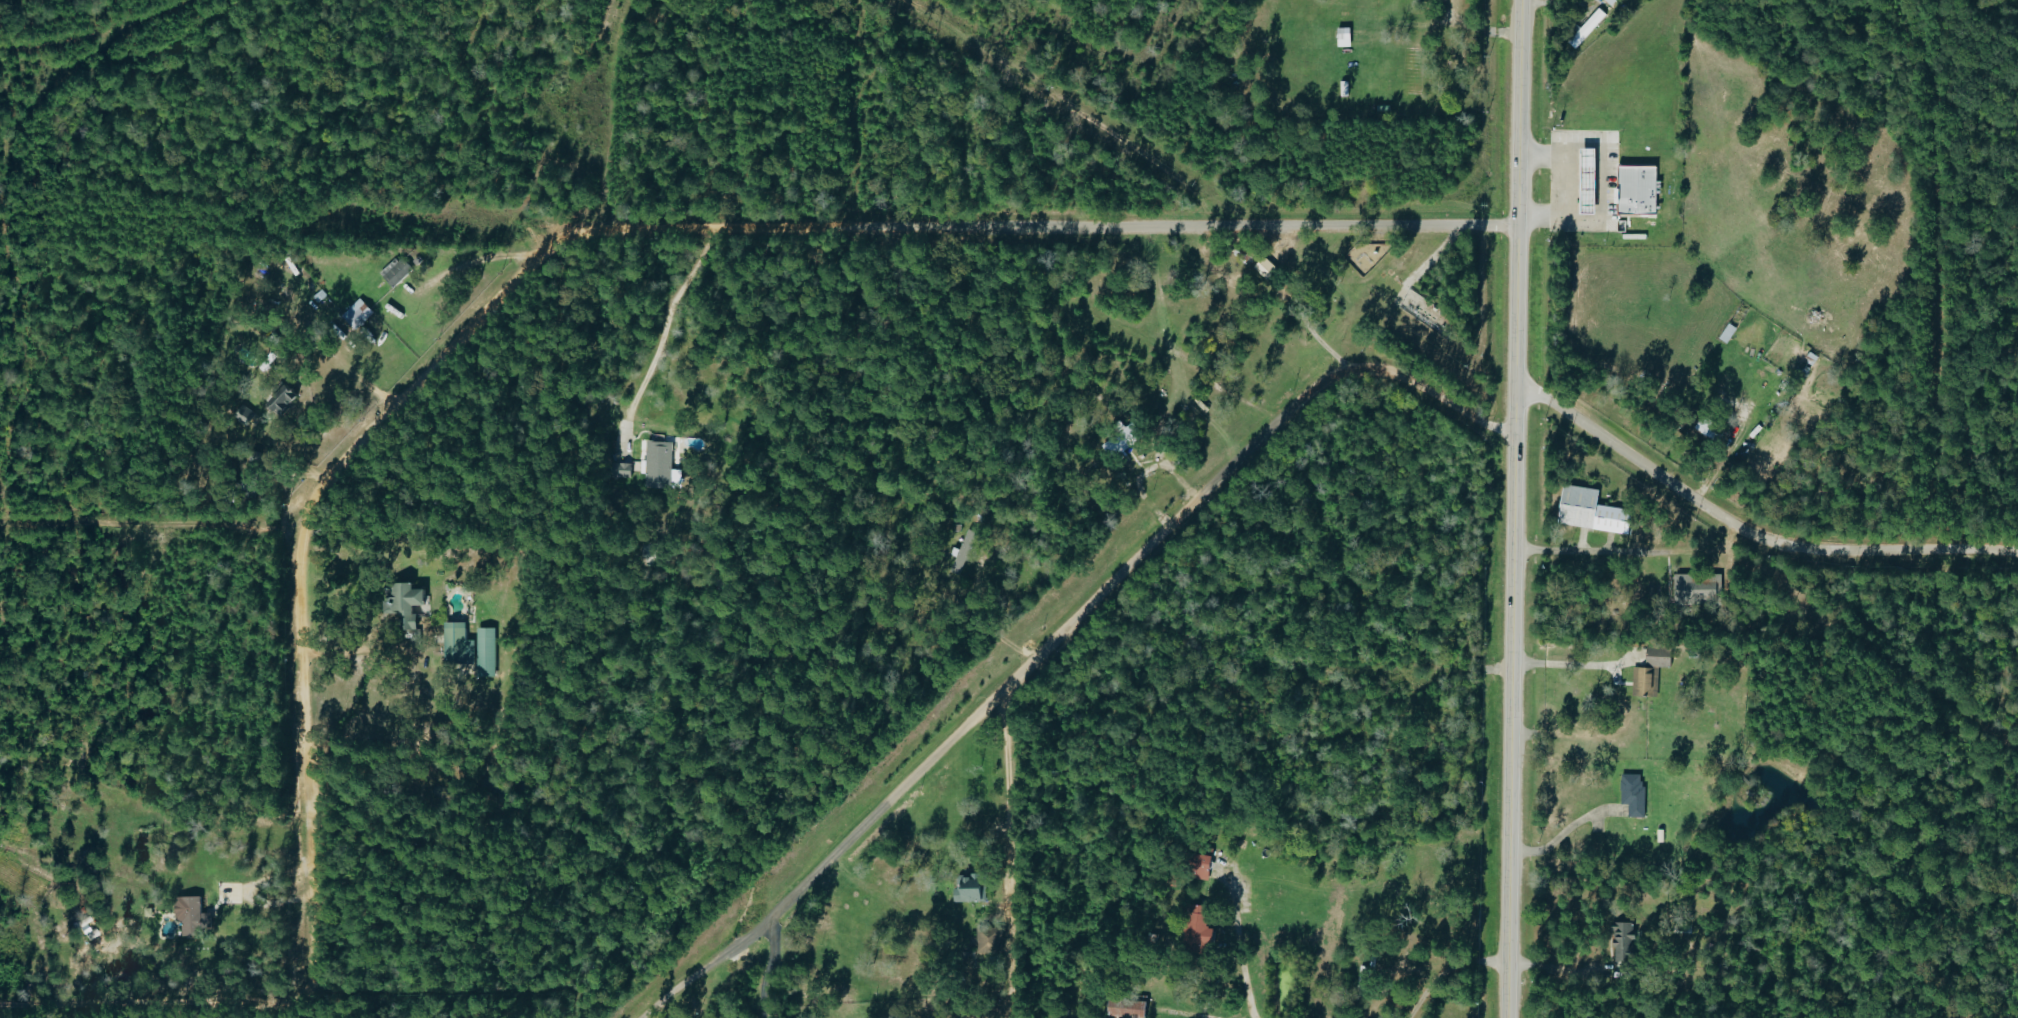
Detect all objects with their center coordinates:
building: (1612, 2)
building: (1590, 26)
building: (1347, 37)
building: (1592, 181)
road: (1603, 182)
building: (1640, 190)
building: (1268, 269)
building: (397, 272)
road: (486, 308)
building: (359, 314)
road: (661, 333)
building: (1729, 333)
road: (1311, 334)
building: (286, 401)
building: (1711, 428)
building: (1116, 441)
building: (661, 464)
road: (1720, 464)
building: (625, 470)
road: (1513, 508)
building: (1596, 511)
road: (197, 529)
road: (1746, 532)
building: (964, 551)
road: (1632, 555)
building: (1699, 588)
building: (408, 605)
road: (1064, 631)
building: (460, 644)
building: (488, 652)
building: (1662, 656)
building: (1646, 681)
road: (1627, 710)
building: (1635, 794)
road: (1562, 833)
road: (1006, 855)
building: (1204, 866)
building: (972, 889)
building: (191, 915)
building: (1198, 926)
building: (989, 940)
building: (1626, 947)
road: (1240, 956)
road: (1446, 970)
road: (1553, 970)
road: (765, 971)
building: (1130, 1008)
road: (205, 1011)

